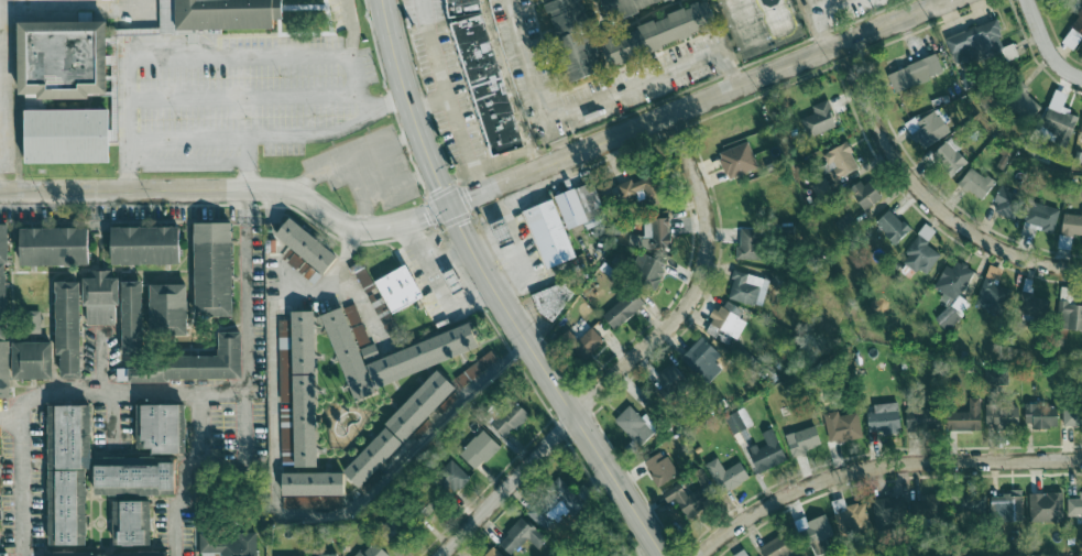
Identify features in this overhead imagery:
building: (611, 7)
building: (219, 14)
road: (820, 15)
road: (170, 29)
building: (659, 33)
building: (1073, 34)
building: (576, 35)
building: (975, 44)
road: (1046, 46)
road: (351, 56)
building: (64, 57)
road: (240, 57)
building: (916, 73)
road: (655, 74)
road: (538, 79)
road: (511, 84)
road: (737, 86)
road: (242, 96)
road: (447, 97)
road: (430, 105)
building: (1059, 118)
building: (819, 119)
road: (129, 122)
building: (1081, 128)
building: (927, 129)
road: (331, 130)
building: (68, 135)
road: (188, 137)
building: (948, 157)
road: (503, 159)
building: (737, 160)
road: (248, 162)
building: (840, 162)
building: (975, 183)
road: (189, 188)
building: (820, 188)
building: (642, 189)
road: (487, 190)
building: (866, 194)
road: (925, 198)
building: (1006, 203)
building: (584, 206)
traffic signals: (448, 207)
road: (409, 219)
building: (1039, 219)
building: (845, 225)
building: (1071, 225)
building: (892, 226)
building: (549, 233)
building: (652, 235)
road: (273, 239)
building: (145, 244)
building: (750, 244)
building: (54, 246)
building: (307, 246)
building: (921, 255)
building: (293, 260)
building: (214, 269)
building: (647, 270)
building: (363, 277)
building: (3, 280)
building: (952, 281)
building: (747, 288)
road: (249, 290)
building: (398, 290)
road: (494, 291)
building: (100, 295)
building: (994, 297)
building: (554, 298)
building: (1032, 301)
road: (367, 308)
building: (1070, 308)
building: (168, 309)
building: (623, 309)
building: (133, 318)
building: (947, 318)
building: (30, 321)
building: (725, 321)
building: (68, 328)
building: (283, 329)
building: (351, 349)
building: (424, 355)
road: (635, 359)
building: (32, 360)
road: (101, 360)
building: (702, 360)
building: (195, 363)
building: (4, 369)
building: (479, 373)
building: (673, 379)
building: (305, 390)
road: (124, 391)
road: (244, 391)
building: (424, 404)
building: (1041, 415)
building: (1072, 415)
building: (965, 417)
building: (509, 418)
building: (884, 418)
building: (921, 418)
building: (1002, 418)
road: (113, 419)
building: (737, 421)
building: (633, 426)
building: (842, 426)
road: (12, 427)
building: (161, 427)
building: (68, 436)
building: (802, 440)
building: (479, 449)
building: (767, 453)
building: (374, 457)
road: (25, 464)
road: (878, 466)
building: (660, 468)
building: (134, 476)
building: (726, 476)
building: (452, 477)
building: (313, 490)
building: (565, 494)
road: (182, 497)
road: (275, 501)
building: (687, 501)
building: (0, 502)
building: (971, 504)
building: (1005, 505)
building: (67, 506)
building: (1074, 506)
building: (1045, 508)
building: (889, 513)
building: (851, 519)
building: (132, 522)
building: (813, 528)
building: (521, 536)
building: (228, 544)
building: (776, 547)
building: (372, 550)
building: (492, 553)
building: (3, 554)
building: (68, 554)

